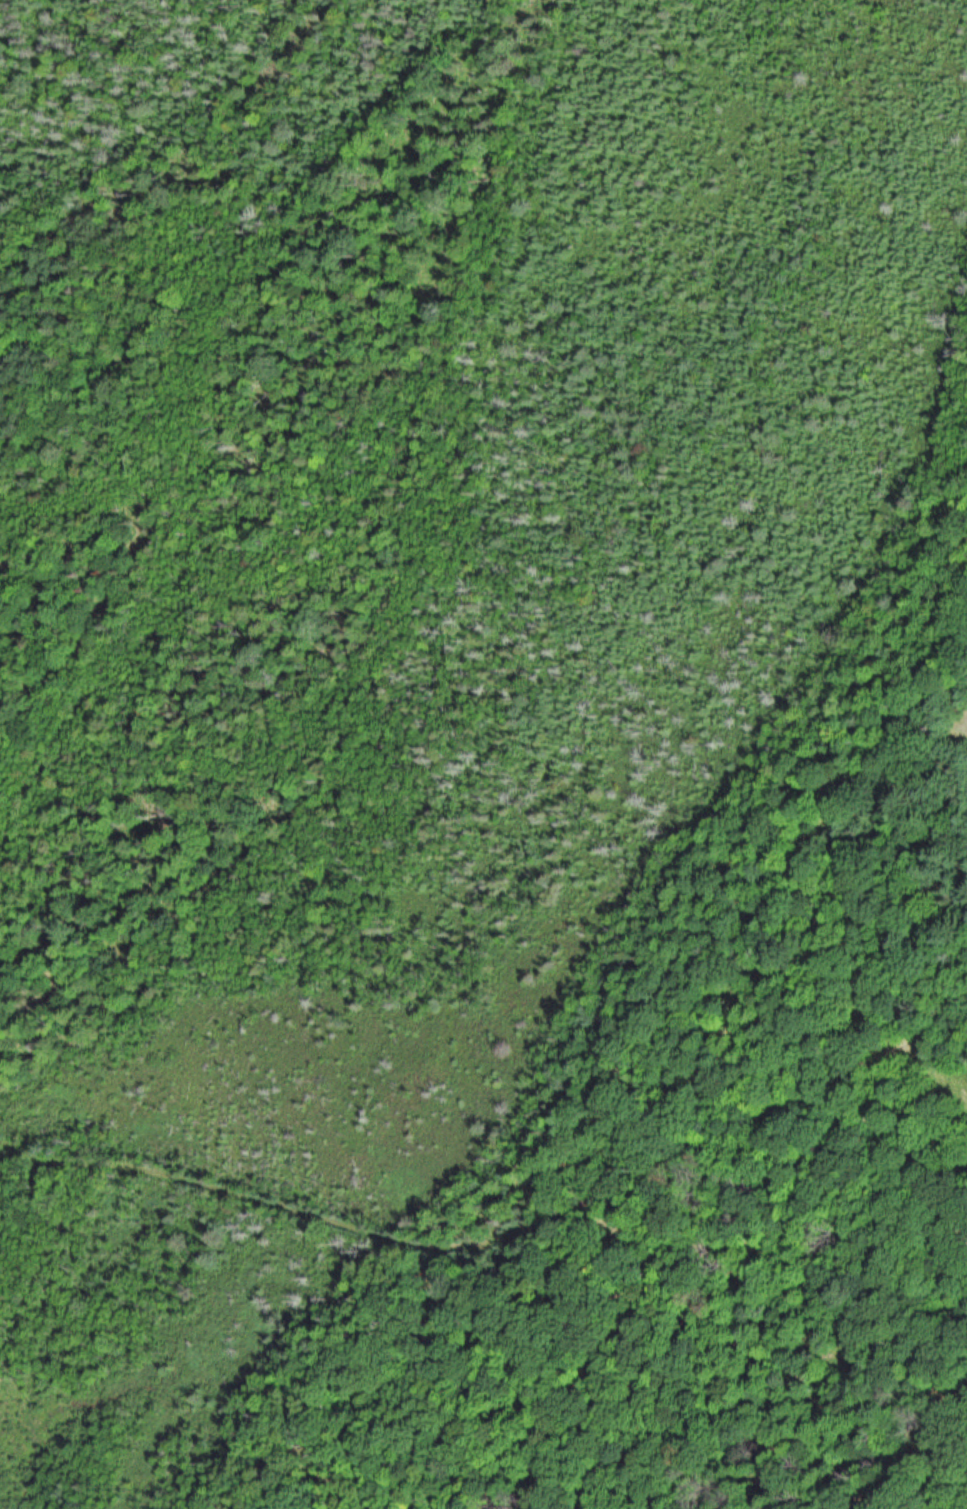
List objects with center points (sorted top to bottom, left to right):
road: (493, 1223)
road: (376, 1389)

